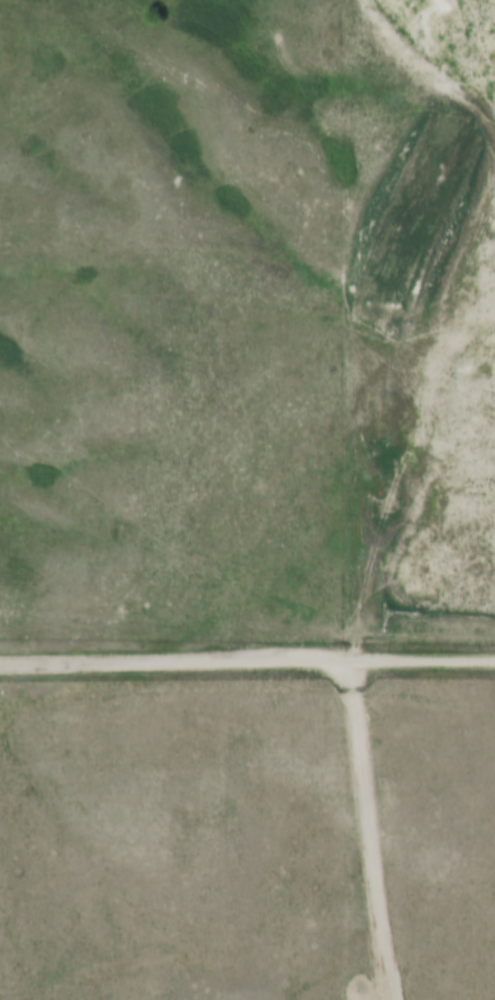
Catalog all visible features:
road: (247, 659)

